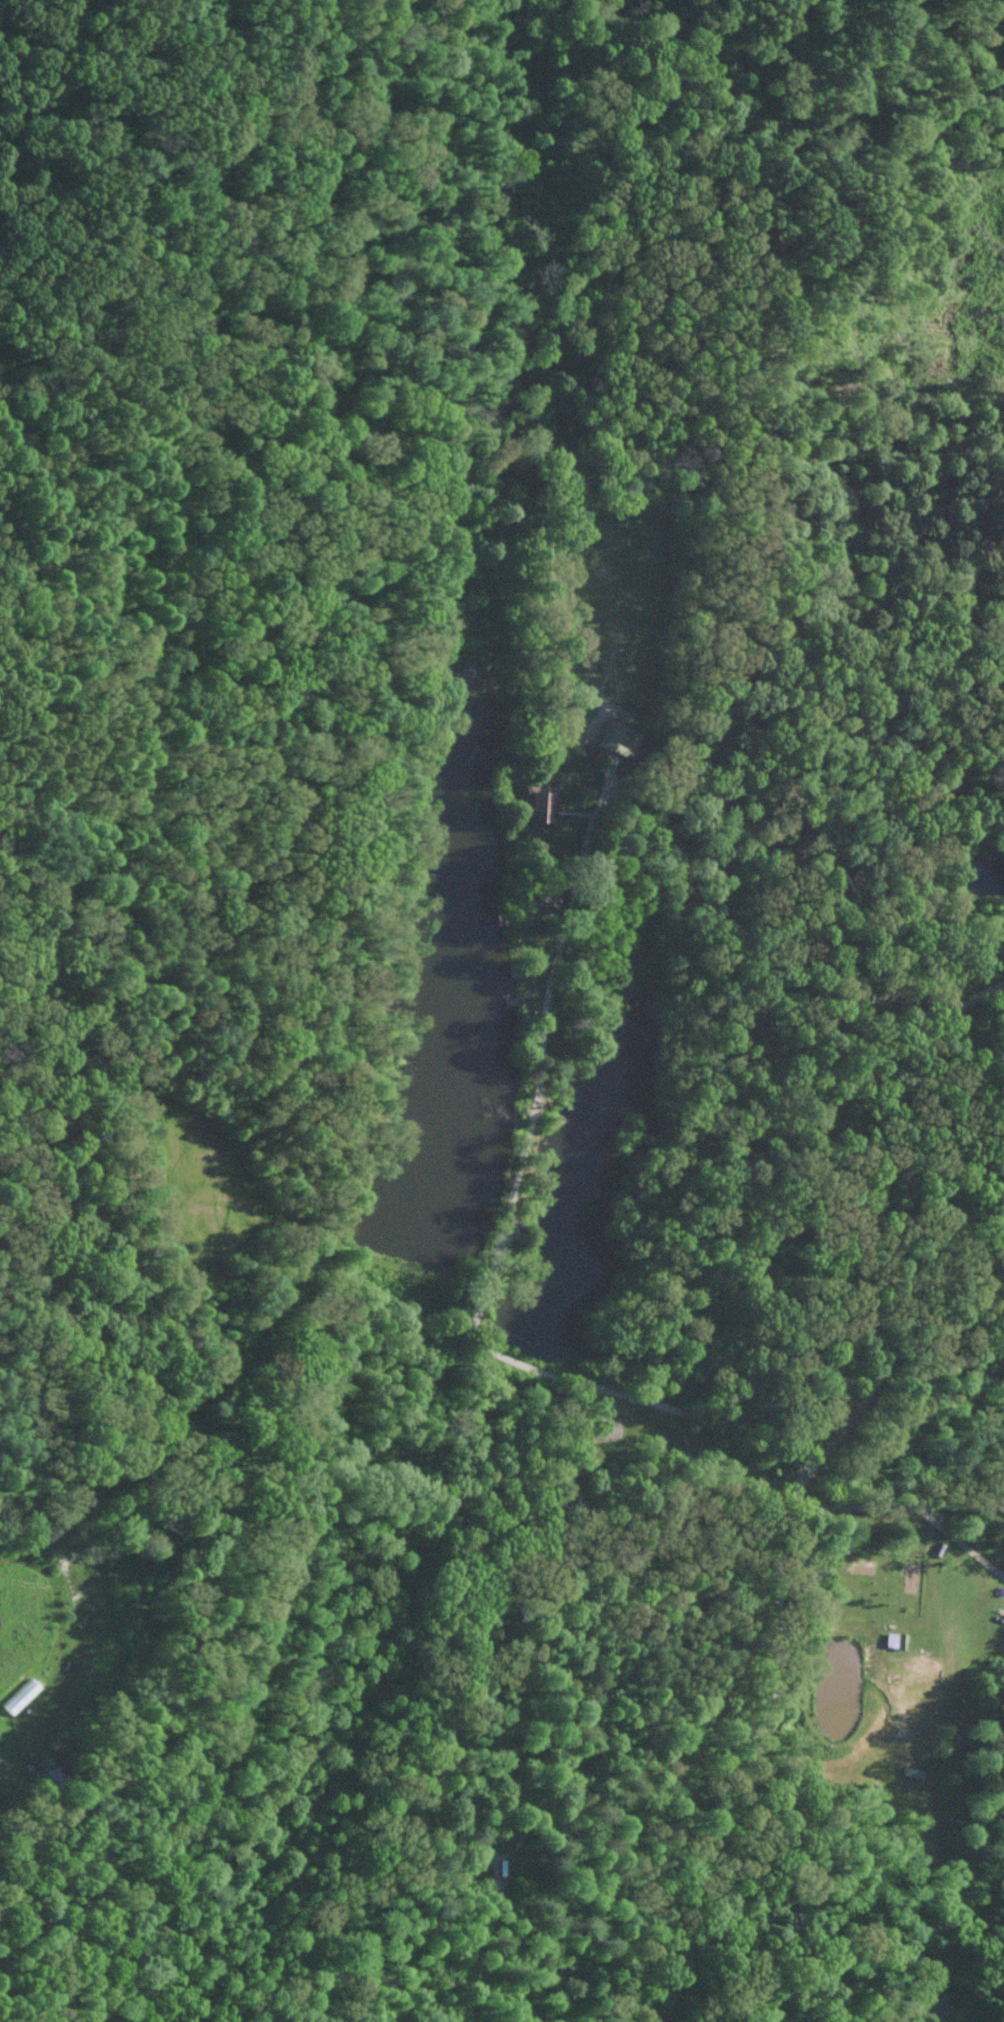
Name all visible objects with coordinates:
building: (612, 737)
building: (536, 802)
road: (502, 1227)
building: (603, 1425)
road: (899, 1502)
road: (1, 1527)
road: (786, 1598)
building: (893, 1639)
building: (18, 1695)

